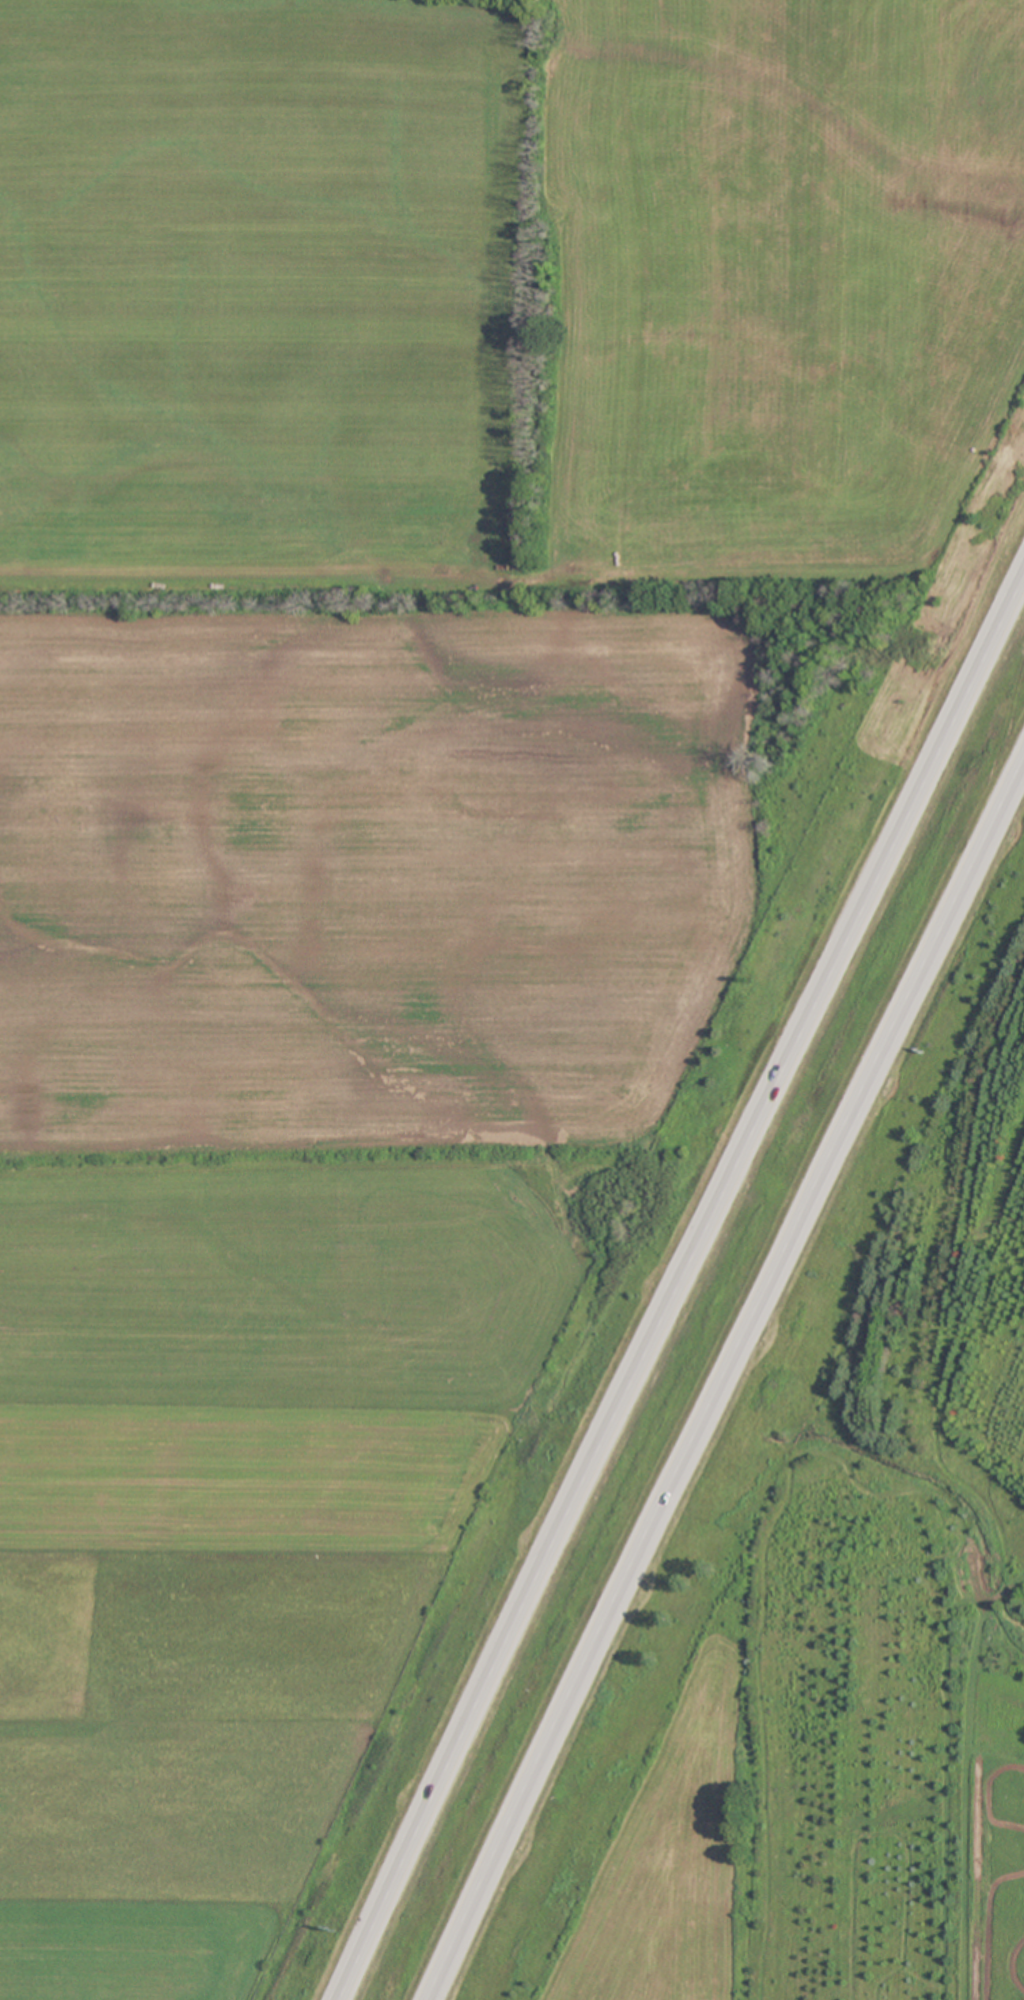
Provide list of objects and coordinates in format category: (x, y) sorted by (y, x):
road: (677, 1286)
road: (724, 1375)

